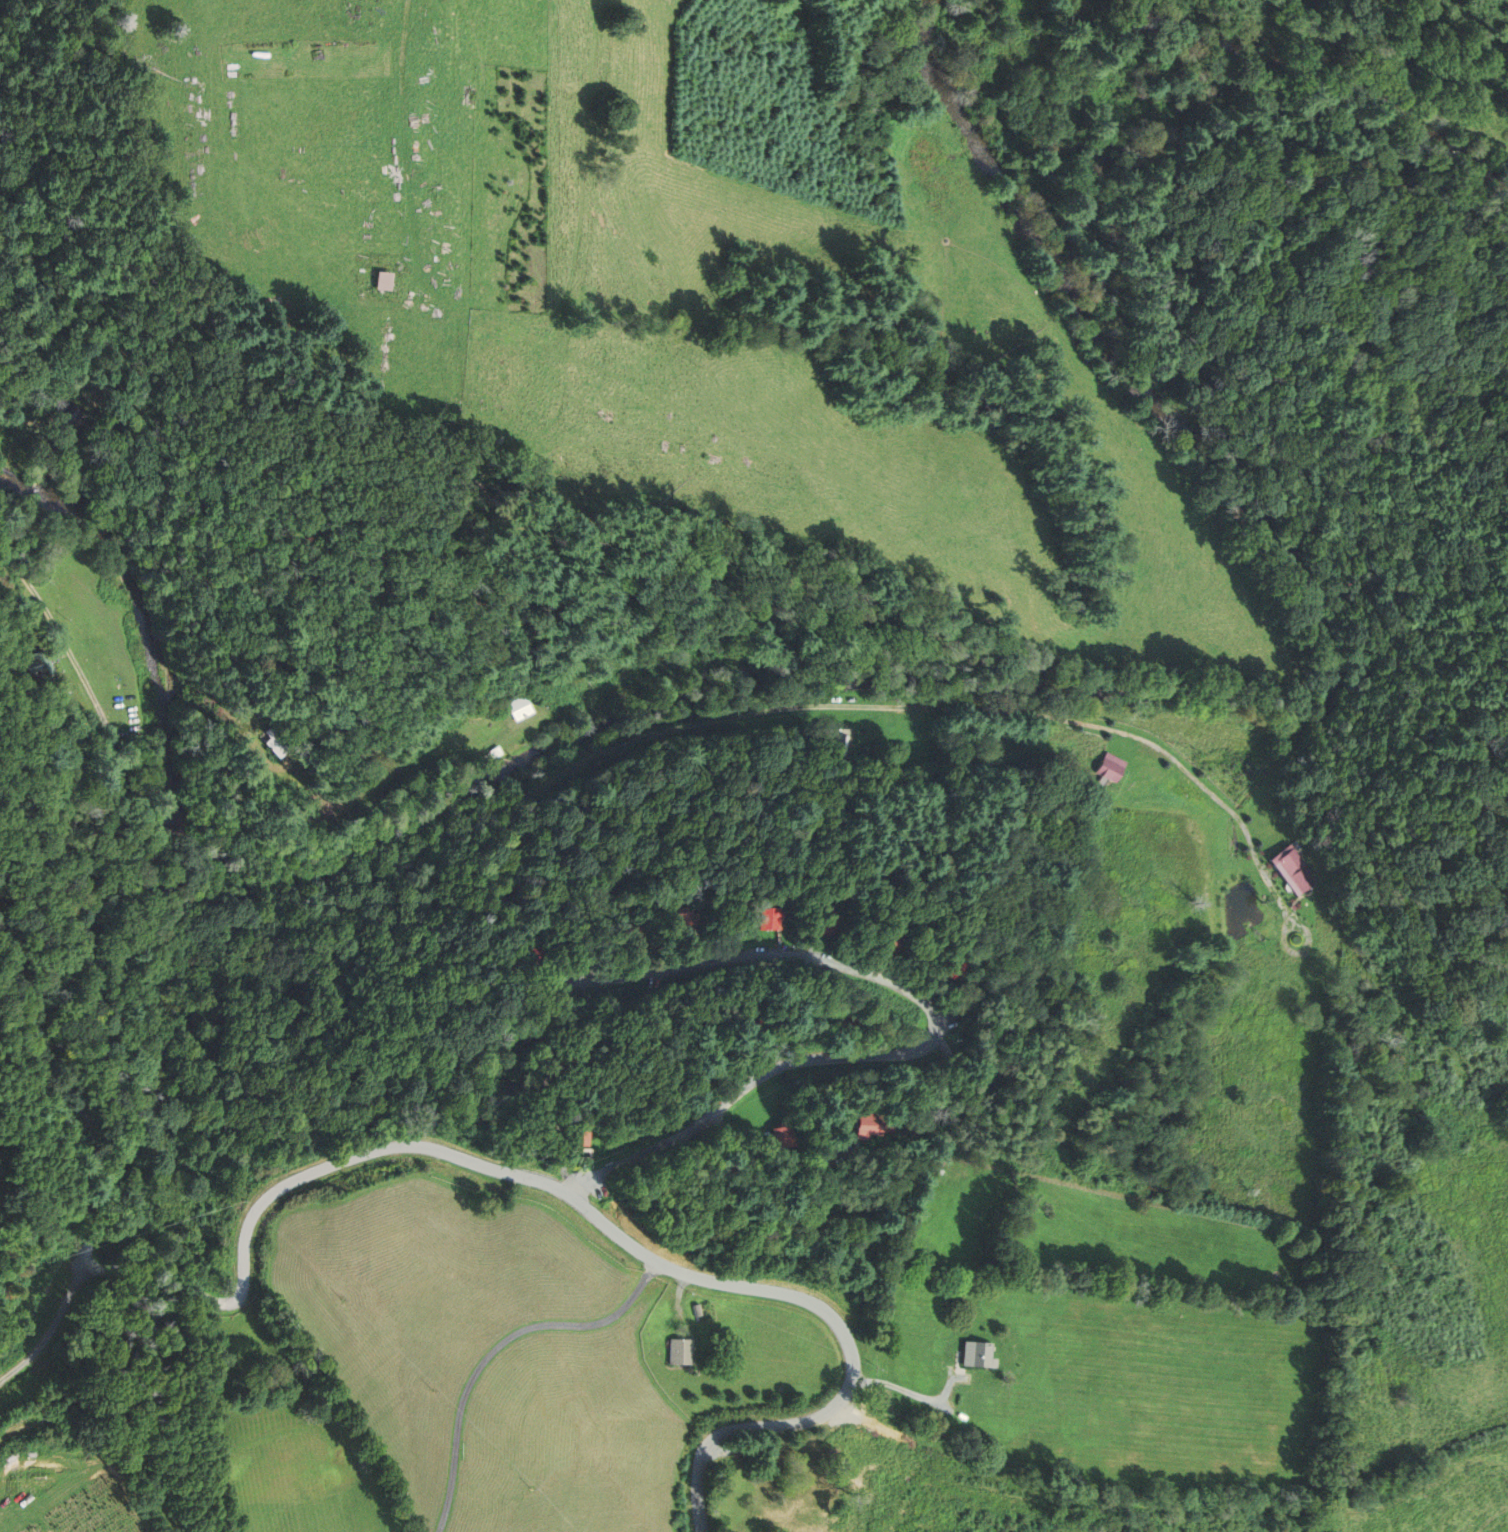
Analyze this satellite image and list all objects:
building: (382, 281)
building: (70, 417)
road: (29, 427)
building: (520, 707)
building: (276, 741)
building: (841, 746)
building: (491, 754)
building: (1110, 770)
road: (555, 777)
building: (1295, 870)
building: (768, 918)
building: (685, 922)
building: (826, 924)
building: (635, 937)
building: (889, 941)
building: (531, 961)
building: (954, 968)
building: (848, 1026)
building: (753, 1027)
road: (938, 1032)
building: (571, 1064)
building: (692, 1084)
building: (873, 1125)
building: (578, 1134)
building: (784, 1136)
road: (421, 1140)
building: (818, 1144)
building: (697, 1310)
road: (53, 1326)
road: (496, 1349)
building: (679, 1351)
building: (978, 1354)
road: (909, 1392)

